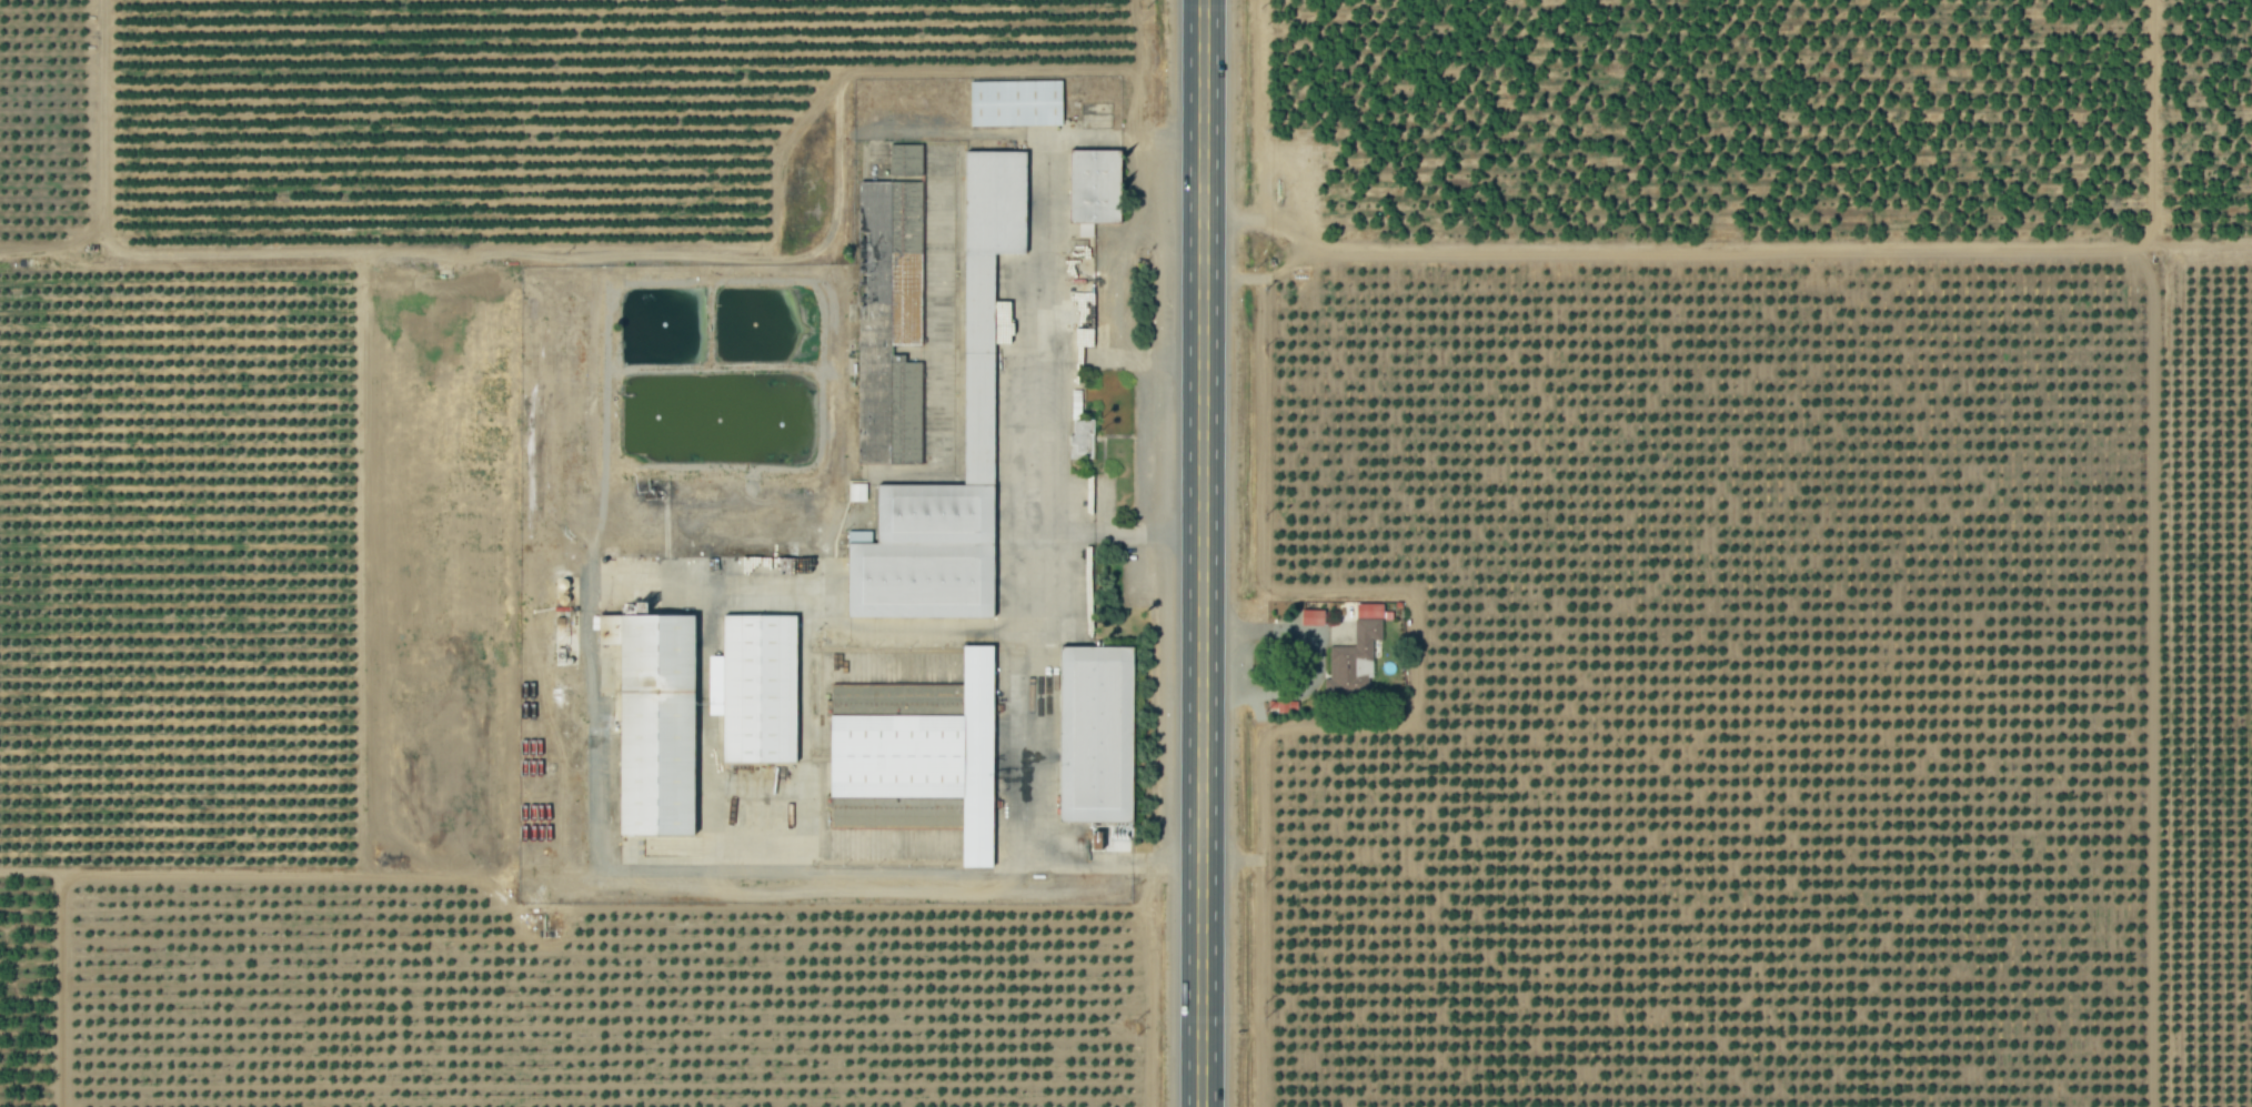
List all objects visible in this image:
building: (1015, 103)
building: (905, 160)
building: (1093, 189)
building: (989, 243)
road: (1723, 251)
building: (885, 328)
building: (1080, 440)
building: (857, 492)
road: (1200, 553)
building: (636, 611)
building: (1368, 611)
building: (1311, 618)
building: (1353, 662)
road: (1319, 663)
building: (755, 690)
road: (1015, 691)
building: (654, 724)
building: (919, 748)

